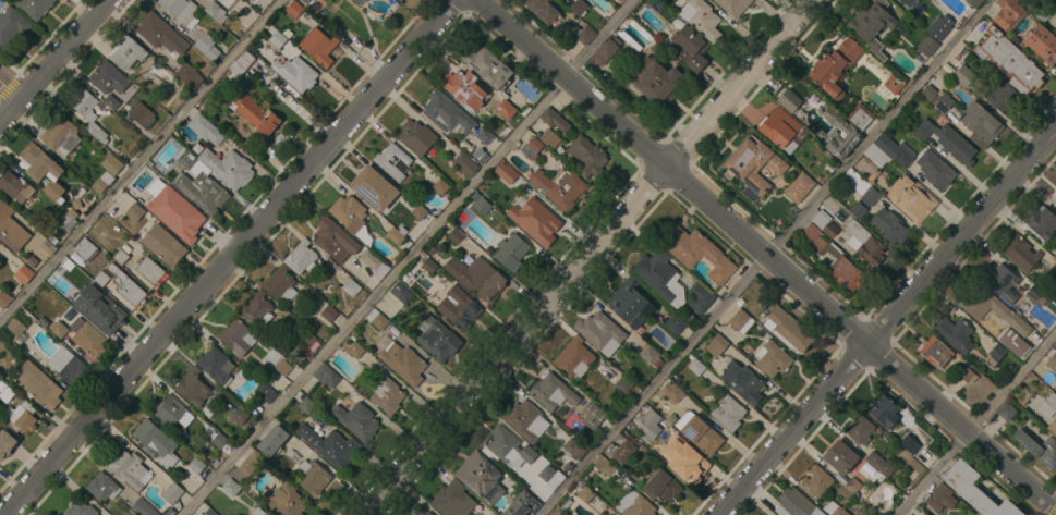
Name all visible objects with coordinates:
building: (250, 0)
building: (251, 0)
building: (399, 0)
building: (306, 1)
building: (360, 1)
building: (974, 2)
building: (910, 3)
building: (34, 7)
building: (579, 7)
building: (733, 7)
building: (294, 9)
building: (542, 9)
building: (181, 10)
building: (216, 11)
building: (1006, 12)
building: (1054, 17)
building: (701, 19)
building: (872, 24)
building: (11, 25)
building: (939, 27)
building: (160, 34)
building: (275, 35)
building: (584, 35)
building: (1042, 44)
building: (207, 46)
building: (318, 46)
building: (927, 46)
building: (688, 47)
building: (605, 50)
building: (126, 52)
building: (1004, 56)
road: (53, 61)
building: (242, 62)
building: (835, 68)
building: (489, 69)
building: (295, 73)
building: (189, 75)
building: (963, 75)
building: (109, 78)
building: (653, 82)
building: (894, 83)
building: (459, 84)
road: (11, 88)
building: (926, 93)
building: (1004, 97)
building: (789, 100)
building: (111, 101)
building: (943, 101)
building: (506, 109)
building: (87, 111)
building: (446, 112)
building: (254, 113)
building: (859, 117)
building: (142, 118)
building: (554, 120)
building: (980, 124)
building: (206, 128)
building: (780, 128)
building: (837, 131)
building: (60, 136)
building: (484, 136)
building: (416, 137)
building: (549, 138)
building: (947, 140)
building: (531, 148)
building: (876, 154)
building: (903, 156)
building: (586, 157)
building: (483, 158)
road: (141, 160)
building: (392, 161)
building: (753, 163)
building: (111, 164)
building: (465, 164)
building: (228, 168)
building: (43, 170)
building: (937, 171)
building: (508, 175)
building: (102, 182)
building: (197, 183)
building: (15, 186)
building: (440, 186)
building: (861, 186)
building: (559, 187)
building: (799, 187)
building: (374, 188)
building: (1055, 191)
building: (911, 198)
building: (1054, 200)
building: (150, 204)
building: (482, 206)
building: (858, 209)
building: (134, 211)
building: (418, 211)
building: (348, 213)
building: (182, 214)
building: (530, 216)
building: (68, 220)
building: (824, 223)
building: (1042, 223)
building: (890, 228)
building: (11, 229)
building: (396, 234)
building: (456, 235)
building: (335, 240)
building: (163, 245)
building: (864, 245)
building: (49, 247)
building: (86, 249)
building: (430, 249)
building: (695, 250)
building: (511, 252)
building: (1020, 253)
building: (122, 254)
road: (766, 256)
building: (1055, 256)
road: (229, 257)
road: (408, 257)
road: (590, 257)
road: (765, 257)
building: (302, 258)
building: (1055, 259)
building: (32, 260)
building: (836, 260)
building: (0, 262)
building: (374, 263)
building: (429, 266)
building: (150, 271)
building: (1052, 271)
building: (24, 274)
building: (477, 277)
building: (659, 277)
building: (101, 278)
building: (1002, 282)
building: (280, 284)
building: (126, 285)
building: (352, 287)
building: (401, 292)
building: (1033, 292)
building: (700, 297)
building: (4, 298)
building: (630, 303)
building: (459, 307)
building: (257, 308)
building: (100, 309)
building: (329, 312)
building: (1008, 315)
building: (377, 319)
road: (886, 320)
building: (741, 321)
building: (675, 323)
building: (58, 329)
building: (13, 330)
building: (788, 330)
building: (600, 332)
building: (956, 333)
building: (238, 336)
building: (88, 338)
building: (307, 339)
building: (438, 339)
building: (1013, 343)
building: (716, 345)
building: (355, 350)
building: (935, 351)
building: (997, 353)
building: (650, 355)
building: (574, 358)
building: (773, 358)
building: (278, 361)
building: (403, 361)
building: (1052, 361)
building: (68, 365)
building: (216, 365)
building: (696, 367)
building: (326, 375)
building: (967, 375)
building: (742, 382)
building: (38, 384)
building: (623, 384)
building: (193, 387)
building: (4, 392)
building: (266, 392)
building: (553, 392)
building: (673, 393)
building: (386, 394)
building: (1052, 400)
building: (307, 405)
building: (169, 410)
building: (883, 410)
building: (1007, 410)
building: (728, 412)
building: (593, 415)
building: (22, 416)
building: (240, 416)
building: (356, 420)
building: (525, 420)
building: (648, 420)
building: (1052, 426)
road: (979, 427)
building: (860, 429)
building: (699, 432)
building: (219, 440)
building: (272, 440)
building: (156, 442)
building: (5, 443)
building: (909, 444)
building: (330, 445)
building: (508, 445)
building: (573, 447)
building: (1039, 449)
building: (622, 451)
building: (840, 456)
building: (682, 462)
building: (251, 463)
building: (535, 464)
building: (878, 464)
building: (196, 465)
building: (602, 465)
building: (129, 468)
building: (313, 477)
building: (481, 477)
building: (550, 477)
building: (817, 480)
building: (853, 485)
building: (665, 486)
building: (102, 487)
building: (230, 487)
building: (975, 490)
building: (172, 493)
building: (585, 494)
building: (939, 498)
building: (284, 500)
building: (452, 500)
building: (793, 503)
building: (521, 504)
building: (634, 504)
building: (144, 507)
building: (80, 508)
building: (834, 508)
building: (169, 512)
building: (209, 512)
building: (259, 512)
building: (426, 513)
building: (562, 513)
building: (605, 513)
building: (764, 514)
building: (922, 514)

